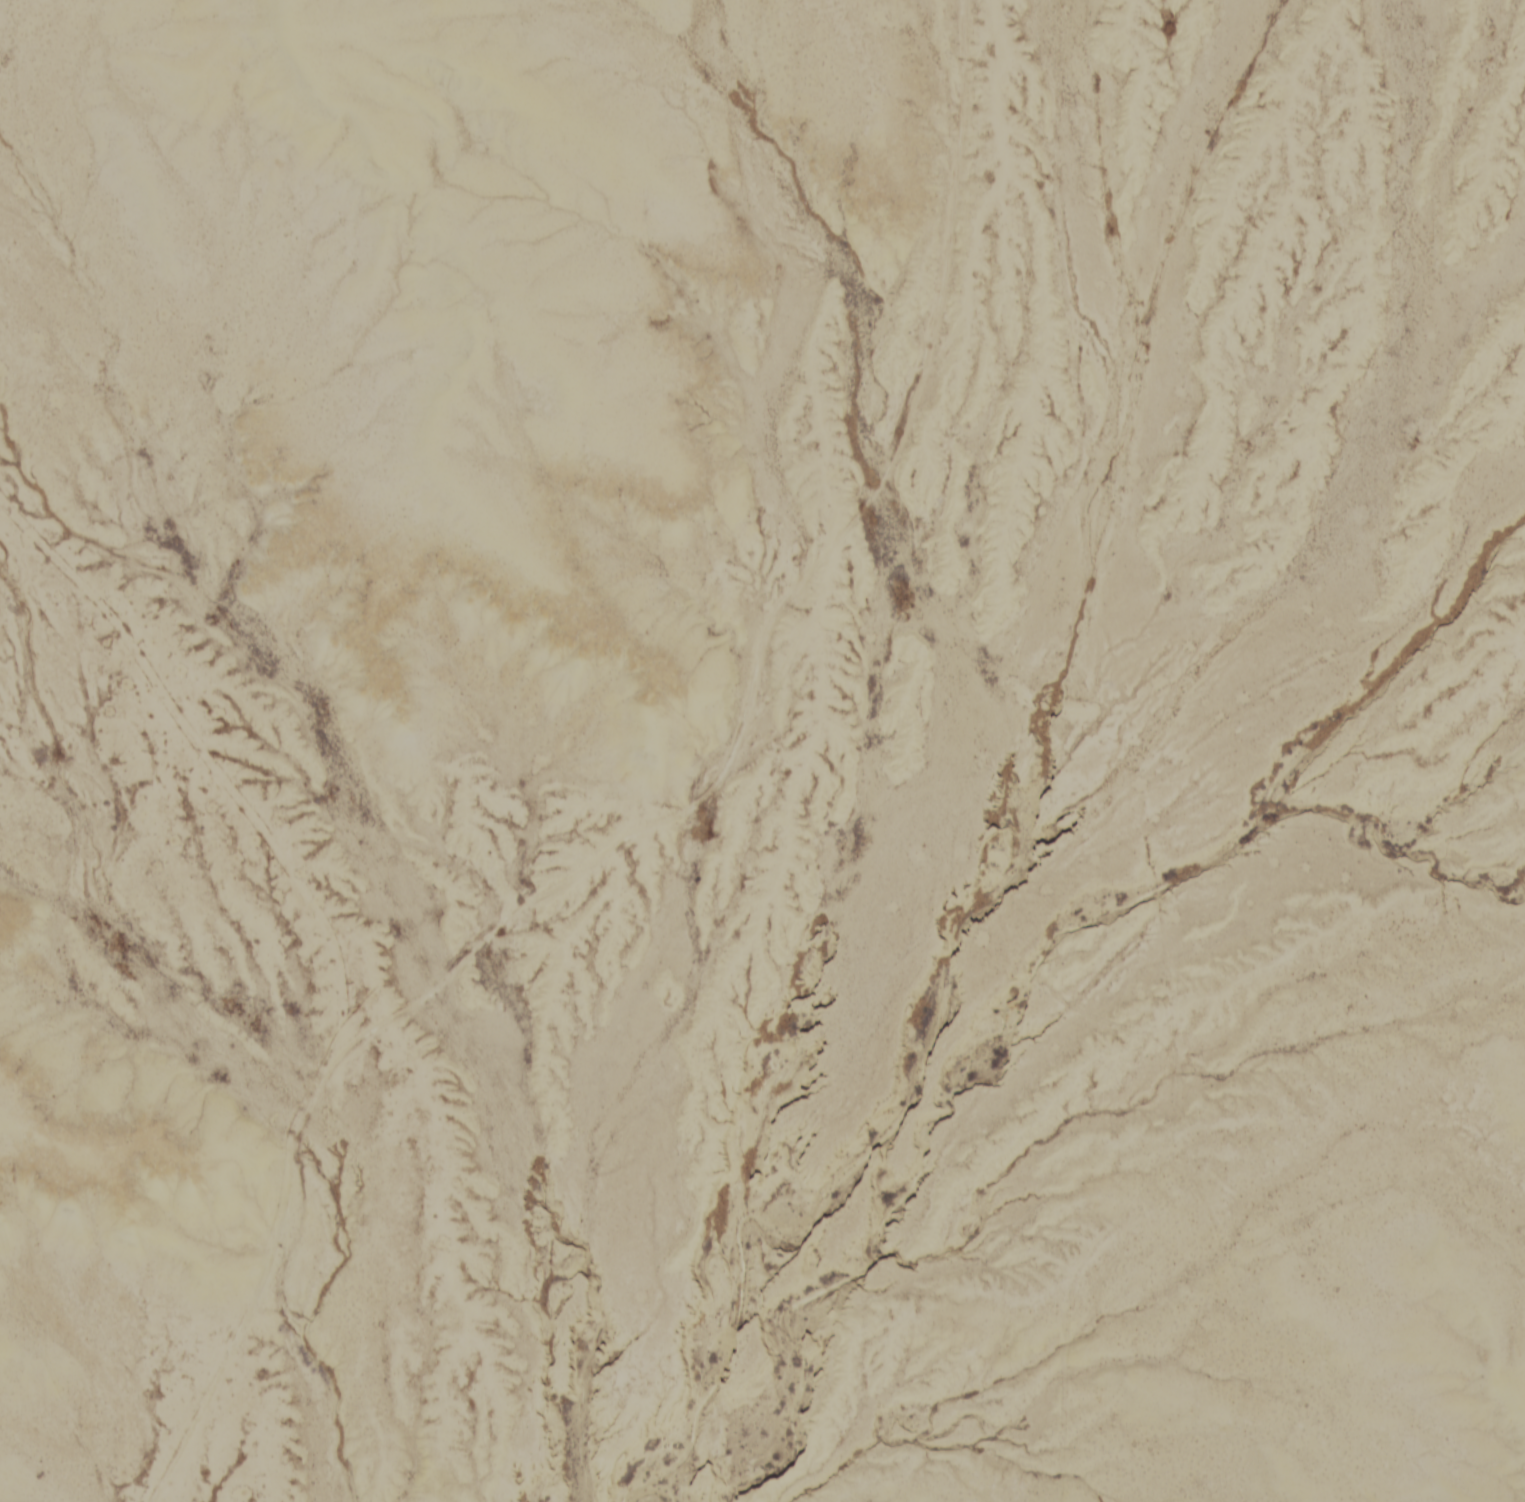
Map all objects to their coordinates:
road: (120, 1375)

